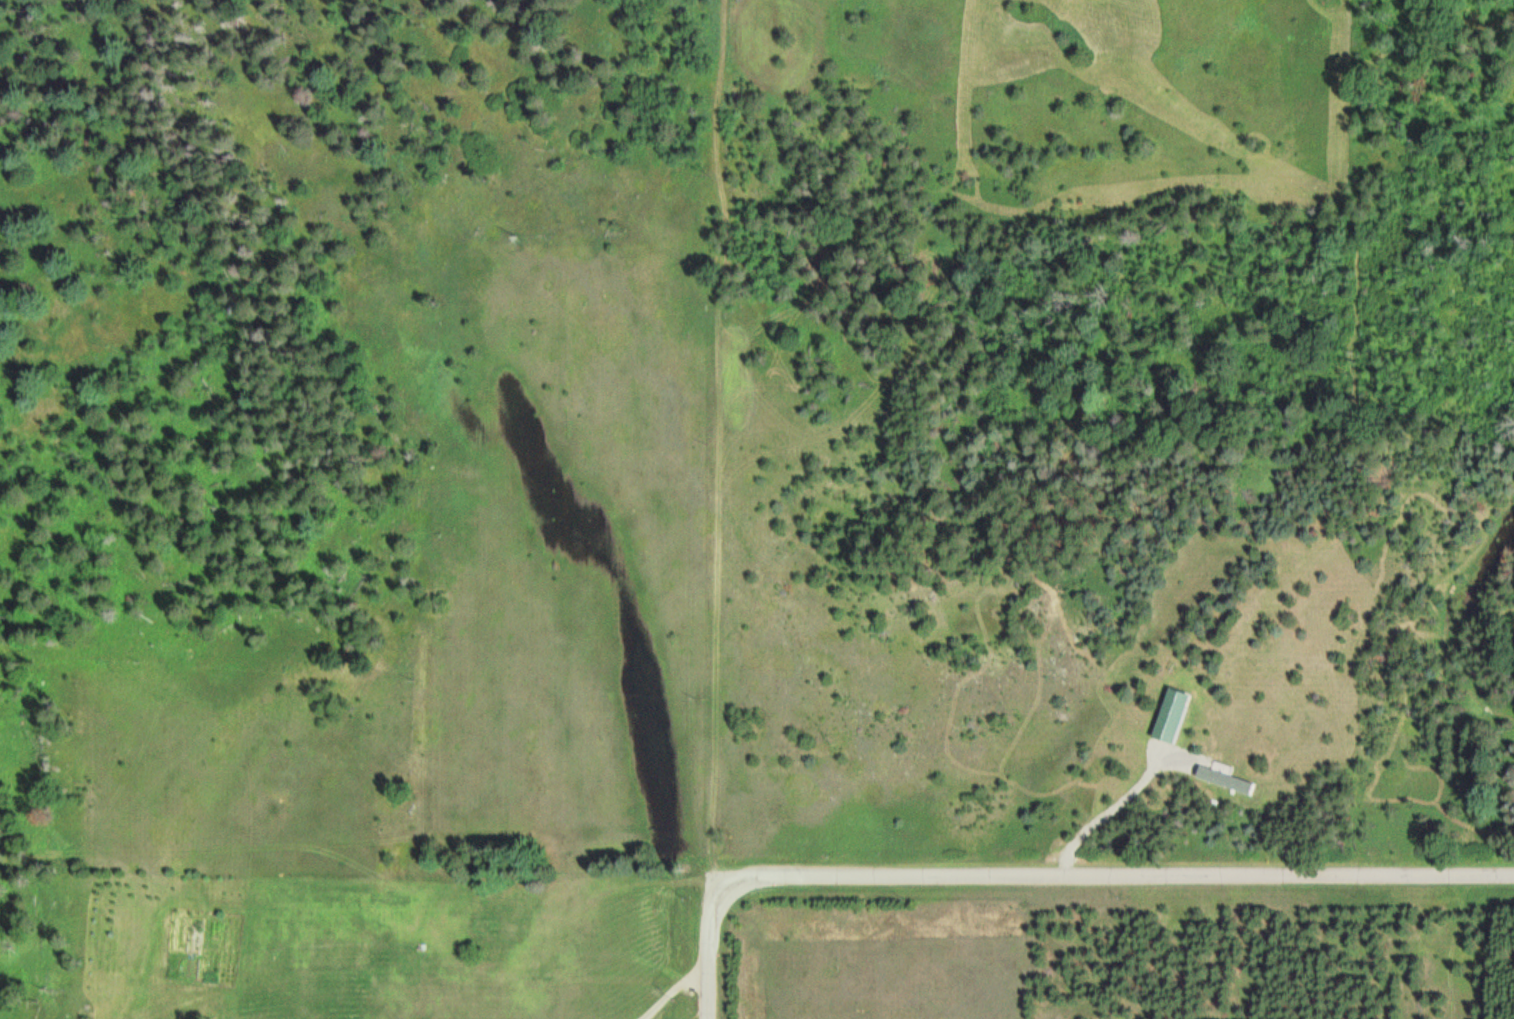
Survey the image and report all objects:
road: (1117, 873)
road: (710, 952)

